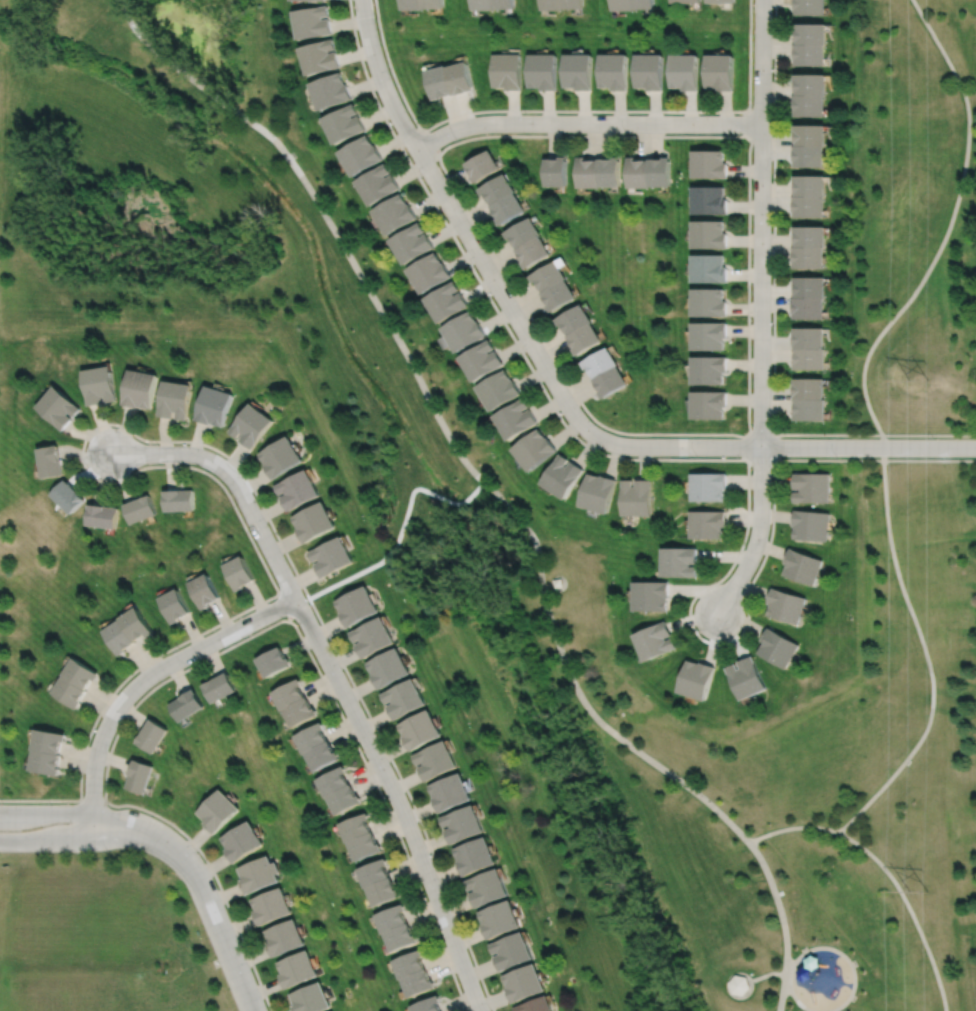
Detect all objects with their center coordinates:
building: (296, 0)
building: (685, 0)
building: (721, 0)
building: (413, 3)
building: (434, 3)
building: (483, 3)
building: (504, 3)
building: (552, 3)
building: (573, 3)
building: (642, 3)
building: (621, 4)
building: (810, 6)
building: (313, 20)
building: (812, 32)
building: (810, 54)
building: (320, 55)
building: (507, 69)
building: (543, 69)
building: (578, 70)
building: (613, 70)
building: (649, 70)
building: (684, 71)
building: (720, 71)
street lamp: (390, 76)
building: (461, 76)
building: (440, 80)
building: (811, 83)
building: (331, 89)
building: (810, 104)
street lamp: (751, 107)
road: (568, 110)
street lamp: (525, 112)
street lamp: (703, 113)
building: (344, 122)
road: (586, 122)
road: (749, 123)
street lamp: (626, 133)
building: (811, 134)
street lamp: (456, 139)
road: (430, 143)
building: (360, 154)
building: (810, 155)
building: (709, 164)
building: (483, 165)
building: (557, 171)
building: (610, 171)
building: (590, 172)
building: (659, 172)
building: (638, 173)
street lamp: (422, 176)
building: (378, 183)
building: (811, 185)
building: (498, 188)
building: (709, 200)
building: (508, 207)
building: (810, 207)
building: (395, 213)
street lamp: (771, 222)
road: (761, 223)
road: (947, 230)
building: (524, 232)
road: (467, 234)
building: (709, 234)
building: (811, 236)
building: (412, 242)
building: (534, 251)
building: (809, 257)
street lamp: (474, 265)
building: (709, 269)
building: (430, 272)
building: (550, 275)
building: (811, 287)
building: (559, 295)
building: (447, 301)
building: (709, 303)
building: (809, 309)
building: (576, 319)
street lamp: (751, 319)
road: (773, 319)
building: (464, 331)
building: (709, 336)
building: (585, 338)
building: (809, 339)
street lamp: (527, 355)
building: (481, 360)
building: (811, 360)
building: (601, 363)
road: (748, 363)
building: (710, 370)
power tower: (920, 380)
building: (611, 382)
building: (101, 386)
building: (141, 389)
building: (809, 389)
building: (499, 390)
building: (175, 400)
building: (710, 405)
building: (213, 406)
building: (59, 408)
building: (811, 411)
building: (516, 419)
road: (441, 422)
street lamp: (595, 423)
road: (117, 424)
building: (251, 426)
street lamp: (771, 428)
street lamp: (933, 437)
street lamp: (158, 444)
road: (795, 447)
building: (535, 450)
street lamp: (697, 456)
building: (280, 457)
street lamp: (837, 458)
road: (727, 459)
road: (773, 459)
building: (51, 462)
street lamp: (89, 469)
building: (564, 477)
road: (234, 481)
building: (709, 487)
building: (812, 488)
building: (297, 490)
building: (600, 492)
building: (68, 495)
building: (639, 497)
building: (179, 500)
building: (141, 509)
building: (102, 514)
park: (448, 514)
building: (314, 520)
building: (709, 524)
street lamp: (269, 525)
building: (811, 527)
road: (757, 534)
building: (332, 555)
building: (682, 561)
building: (802, 566)
building: (240, 571)
building: (558, 582)
road: (566, 584)
road: (547, 585)
building: (204, 589)
building: (654, 595)
street lamp: (274, 599)
building: (175, 604)
building: (357, 605)
building: (785, 605)
road: (286, 607)
building: (138, 622)
building: (120, 635)
building: (373, 636)
building: (658, 640)
street lamp: (723, 640)
building: (778, 647)
street lamp: (179, 648)
road: (224, 650)
road: (926, 653)
building: (273, 661)
building: (389, 667)
street lamp: (343, 670)
building: (81, 672)
building: (699, 679)
building: (747, 679)
road: (141, 680)
building: (219, 687)
building: (70, 690)
building: (289, 694)
building: (405, 698)
building: (185, 705)
building: (299, 712)
street lamp: (92, 730)
building: (421, 730)
building: (153, 735)
building: (311, 738)
building: (49, 740)
building: (321, 756)
building: (437, 760)
building: (46, 761)
street lamp: (390, 765)
building: (141, 775)
building: (333, 782)
building: (452, 793)
building: (344, 799)
road: (90, 800)
road: (397, 801)
street lamp: (2, 802)
street lamp: (108, 805)
building: (218, 811)
road: (46, 812)
road: (130, 821)
building: (464, 824)
road: (792, 827)
building: (355, 828)
road: (128, 838)
road: (46, 840)
building: (242, 842)
building: (364, 847)
street lamp: (107, 850)
street lamp: (197, 851)
building: (476, 856)
building: (374, 873)
building: (260, 875)
street lamp: (443, 887)
building: (489, 888)
power tower: (916, 889)
building: (382, 892)
building: (272, 907)
road: (910, 909)
building: (391, 920)
building: (501, 920)
road: (214, 922)
road: (783, 923)
building: (400, 938)
building: (285, 939)
road: (821, 947)
building: (513, 952)
building: (409, 966)
street lamp: (251, 969)
building: (298, 971)
road: (770, 973)
building: (739, 983)
building: (418, 984)
building: (526, 984)
road: (745, 994)
building: (311, 999)
building: (539, 1005)
building: (428, 1006)

